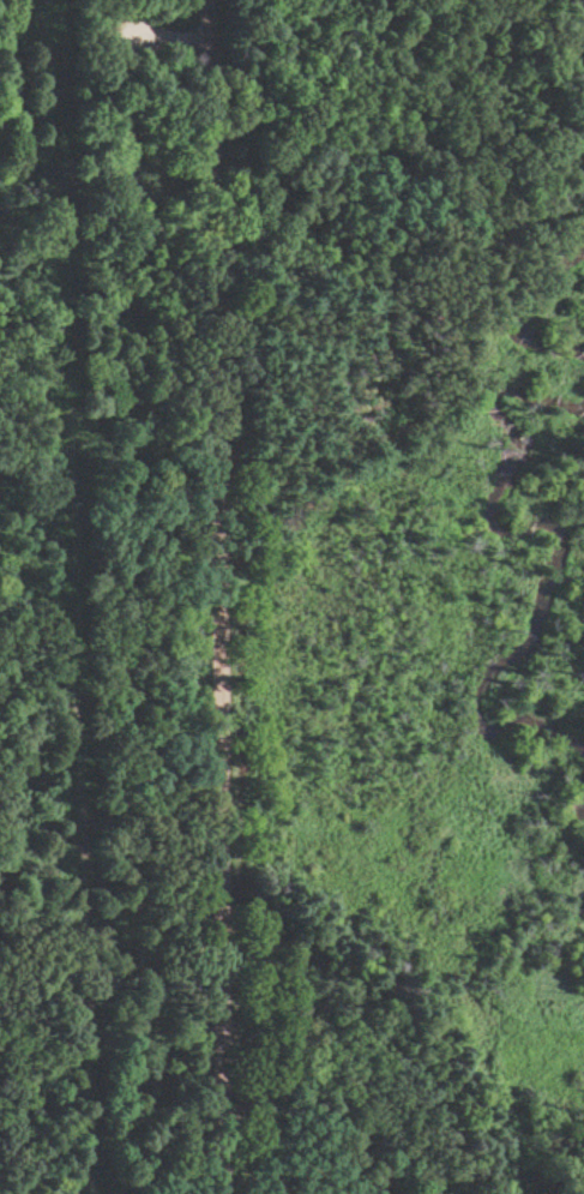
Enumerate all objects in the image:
road: (213, 596)

